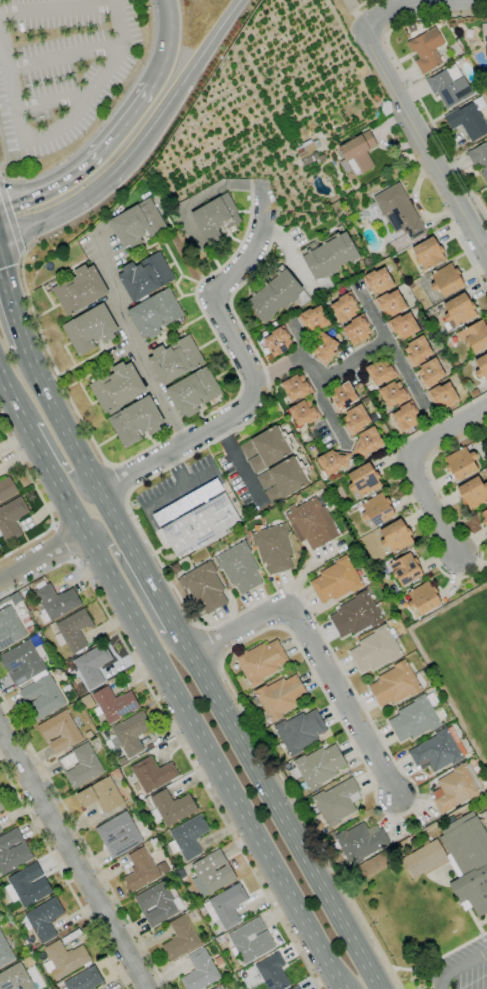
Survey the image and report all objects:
road: (359, 6)
road: (391, 8)
road: (57, 9)
road: (356, 14)
building: (484, 36)
road: (166, 41)
building: (426, 50)
road: (66, 56)
parking lot: (60, 67)
road: (409, 82)
road: (180, 84)
building: (450, 86)
road: (53, 99)
building: (386, 109)
building: (469, 119)
road: (58, 129)
road: (424, 145)
road: (3, 151)
building: (309, 152)
building: (356, 154)
building: (479, 158)
road: (89, 159)
road: (11, 178)
road: (206, 193)
road: (63, 212)
building: (400, 216)
road: (11, 217)
building: (216, 217)
building: (137, 223)
road: (452, 231)
building: (311, 245)
road: (23, 253)
building: (428, 254)
road: (290, 255)
building: (331, 255)
road: (470, 261)
building: (367, 262)
building: (145, 276)
building: (379, 280)
building: (446, 280)
building: (79, 289)
building: (277, 295)
building: (391, 303)
building: (344, 307)
building: (440, 309)
road: (10, 310)
building: (459, 310)
building: (155, 313)
building: (314, 319)
building: (273, 325)
building: (404, 325)
road: (226, 326)
building: (90, 329)
building: (357, 330)
building: (475, 336)
road: (298, 338)
road: (131, 340)
building: (278, 341)
building: (324, 346)
road: (388, 346)
building: (437, 348)
building: (418, 350)
road: (355, 358)
building: (175, 359)
road: (291, 363)
building: (481, 366)
building: (381, 371)
building: (431, 372)
building: (117, 387)
building: (296, 387)
building: (193, 392)
building: (474, 393)
building: (393, 394)
building: (444, 395)
building: (344, 396)
road: (12, 399)
building: (304, 412)
road: (328, 412)
building: (406, 416)
building: (356, 419)
road: (57, 420)
building: (136, 421)
road: (429, 421)
road: (172, 435)
building: (367, 442)
road: (34, 443)
building: (267, 448)
building: (333, 461)
road: (409, 463)
building: (461, 463)
road: (239, 464)
road: (138, 470)
road: (70, 477)
building: (283, 479)
building: (364, 480)
building: (6, 489)
parking lot: (179, 493)
building: (473, 493)
road: (65, 497)
road: (42, 500)
road: (173, 500)
building: (188, 502)
building: (377, 509)
building: (484, 517)
building: (12, 518)
building: (312, 523)
building: (200, 525)
building: (395, 536)
road: (62, 542)
road: (66, 543)
building: (273, 548)
road: (23, 567)
building: (175, 567)
building: (239, 567)
road: (438, 567)
building: (405, 569)
building: (336, 580)
building: (204, 587)
road: (134, 589)
building: (423, 598)
building: (54, 601)
building: (0, 604)
building: (356, 615)
road: (282, 618)
building: (9, 627)
building: (73, 630)
building: (375, 650)
road: (316, 652)
building: (23, 662)
building: (261, 662)
building: (93, 665)
park: (464, 667)
building: (57, 672)
building: (395, 684)
building: (43, 696)
building: (279, 697)
building: (114, 704)
building: (417, 717)
road: (371, 722)
building: (300, 731)
building: (60, 732)
building: (130, 734)
road: (176, 737)
road: (237, 741)
building: (437, 751)
building: (122, 760)
road: (215, 760)
building: (80, 765)
building: (318, 767)
building: (153, 773)
building: (456, 788)
building: (102, 796)
building: (337, 801)
building: (143, 803)
building: (2, 806)
building: (171, 807)
building: (484, 816)
building: (0, 830)
building: (119, 834)
building: (187, 837)
road: (83, 840)
building: (360, 842)
building: (13, 852)
road: (71, 860)
building: (458, 861)
building: (141, 870)
building: (181, 873)
building: (212, 873)
road: (63, 876)
building: (29, 884)
building: (158, 904)
building: (226, 906)
building: (43, 919)
building: (181, 939)
building: (251, 941)
building: (5, 952)
building: (65, 959)
road: (459, 967)
building: (200, 971)
building: (273, 972)
parking lot: (463, 973)
road: (344, 974)
building: (15, 978)
building: (85, 979)
building: (219, 986)
building: (295, 988)

